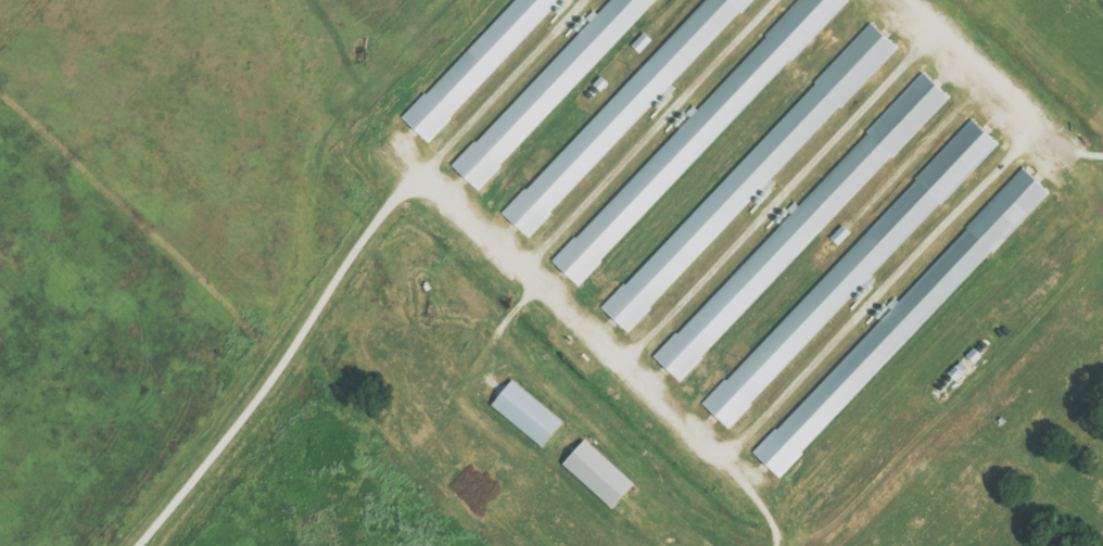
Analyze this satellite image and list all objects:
building: (476, 65)
building: (548, 89)
building: (621, 113)
building: (690, 139)
building: (750, 175)
building: (799, 228)
building: (852, 269)
building: (897, 326)
building: (524, 412)
building: (596, 473)

